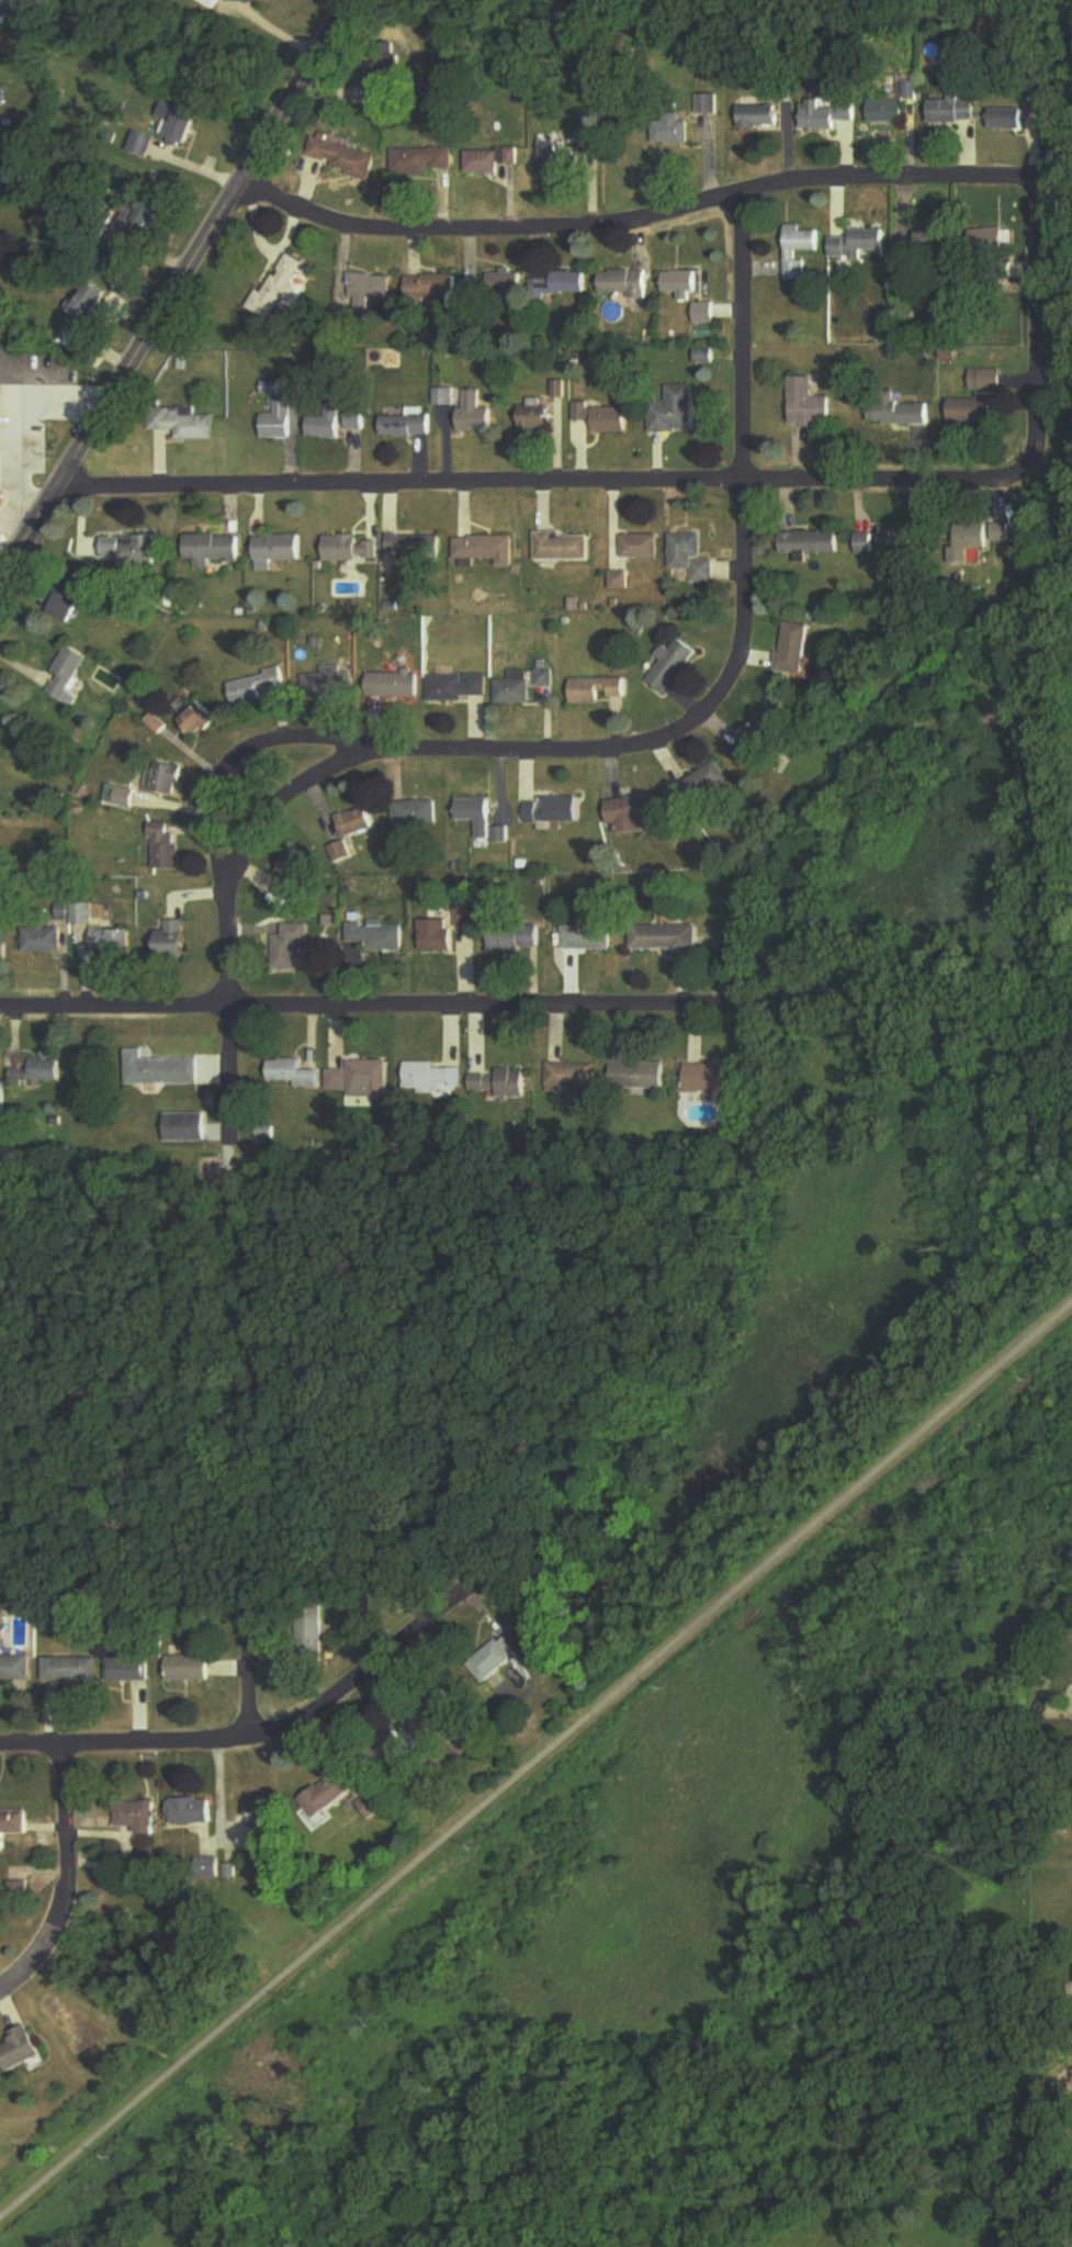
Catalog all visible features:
road: (350, 1)
building: (208, 3)
building: (7, 4)
road: (278, 29)
building: (386, 69)
building: (2, 99)
building: (709, 104)
building: (953, 111)
building: (889, 112)
building: (759, 115)
building: (830, 115)
building: (1007, 119)
building: (178, 123)
building: (673, 127)
building: (140, 144)
building: (557, 158)
building: (346, 159)
building: (421, 160)
building: (484, 162)
building: (154, 214)
road: (631, 225)
building: (934, 240)
building: (858, 243)
building: (1003, 243)
building: (799, 247)
building: (506, 282)
building: (623, 283)
building: (681, 283)
building: (561, 284)
building: (431, 288)
building: (368, 289)
building: (278, 290)
road: (178, 291)
building: (92, 302)
building: (703, 314)
road: (1035, 322)
road: (57, 395)
building: (442, 397)
building: (810, 404)
building: (675, 412)
building: (973, 412)
building: (900, 414)
building: (473, 416)
building: (605, 418)
building: (533, 419)
building: (353, 422)
building: (277, 423)
building: (182, 424)
building: (323, 426)
building: (404, 427)
road: (4, 446)
road: (546, 485)
road: (23, 512)
building: (972, 538)
building: (885, 542)
building: (812, 543)
building: (641, 547)
building: (563, 548)
building: (128, 550)
building: (210, 550)
building: (348, 550)
building: (274, 551)
building: (484, 552)
building: (414, 554)
building: (692, 559)
building: (65, 608)
building: (793, 649)
building: (673, 666)
building: (67, 675)
building: (545, 678)
building: (325, 684)
building: (394, 684)
building: (458, 687)
building: (258, 688)
building: (514, 689)
building: (599, 690)
building: (202, 719)
building: (754, 742)
road: (249, 748)
road: (573, 753)
building: (170, 779)
building: (706, 783)
building: (122, 797)
building: (629, 810)
building: (554, 811)
building: (417, 813)
building: (477, 817)
building: (357, 823)
building: (167, 849)
building: (342, 853)
building: (292, 876)
building: (84, 914)
building: (466, 917)
building: (438, 936)
building: (588, 936)
building: (381, 937)
building: (517, 937)
building: (665, 939)
building: (44, 940)
building: (176, 941)
building: (114, 942)
building: (292, 947)
building: (3, 950)
road: (374, 1009)
building: (162, 1071)
building: (38, 1074)
building: (295, 1074)
building: (640, 1076)
building: (431, 1077)
building: (573, 1078)
building: (362, 1079)
building: (713, 1079)
building: (503, 1083)
building: (187, 1127)
building: (313, 1639)
building: (496, 1660)
road: (249, 1666)
building: (15, 1667)
building: (191, 1669)
building: (131, 1670)
building: (72, 1671)
building: (440, 1710)
road: (258, 1740)
building: (399, 1742)
road: (535, 1756)
building: (331, 1795)
building: (372, 1806)
building: (256, 1810)
building: (193, 1812)
building: (138, 1818)
building: (14, 1831)
road: (69, 1840)
road: (24, 1953)
building: (20, 2048)

